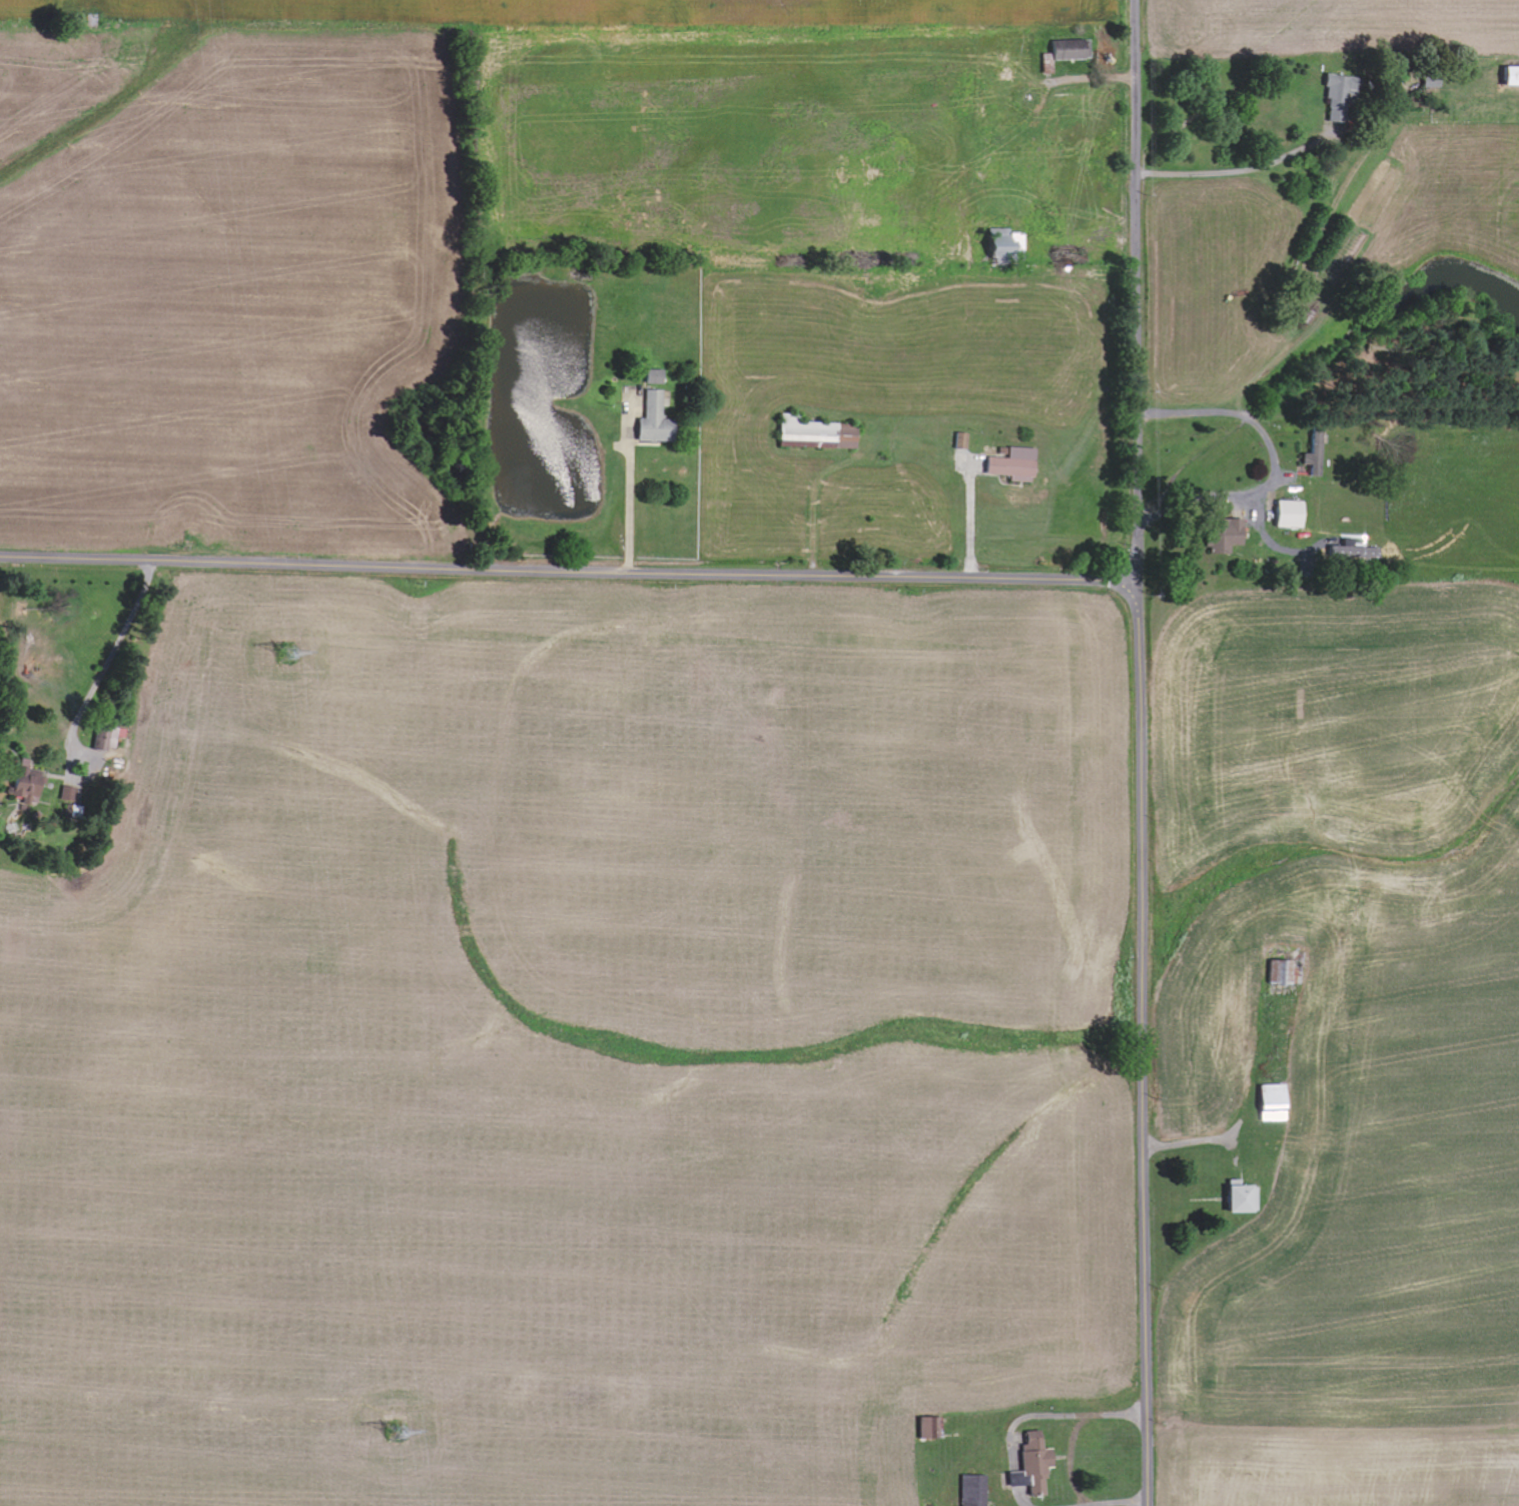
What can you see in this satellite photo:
building: (1066, 51)
road: (1138, 292)
building: (658, 378)
building: (658, 421)
building: (1012, 464)
building: (1219, 536)
road: (579, 571)
power tower: (289, 655)
building: (71, 794)
road: (1144, 1054)
power tower: (399, 1430)
building: (1029, 1462)

